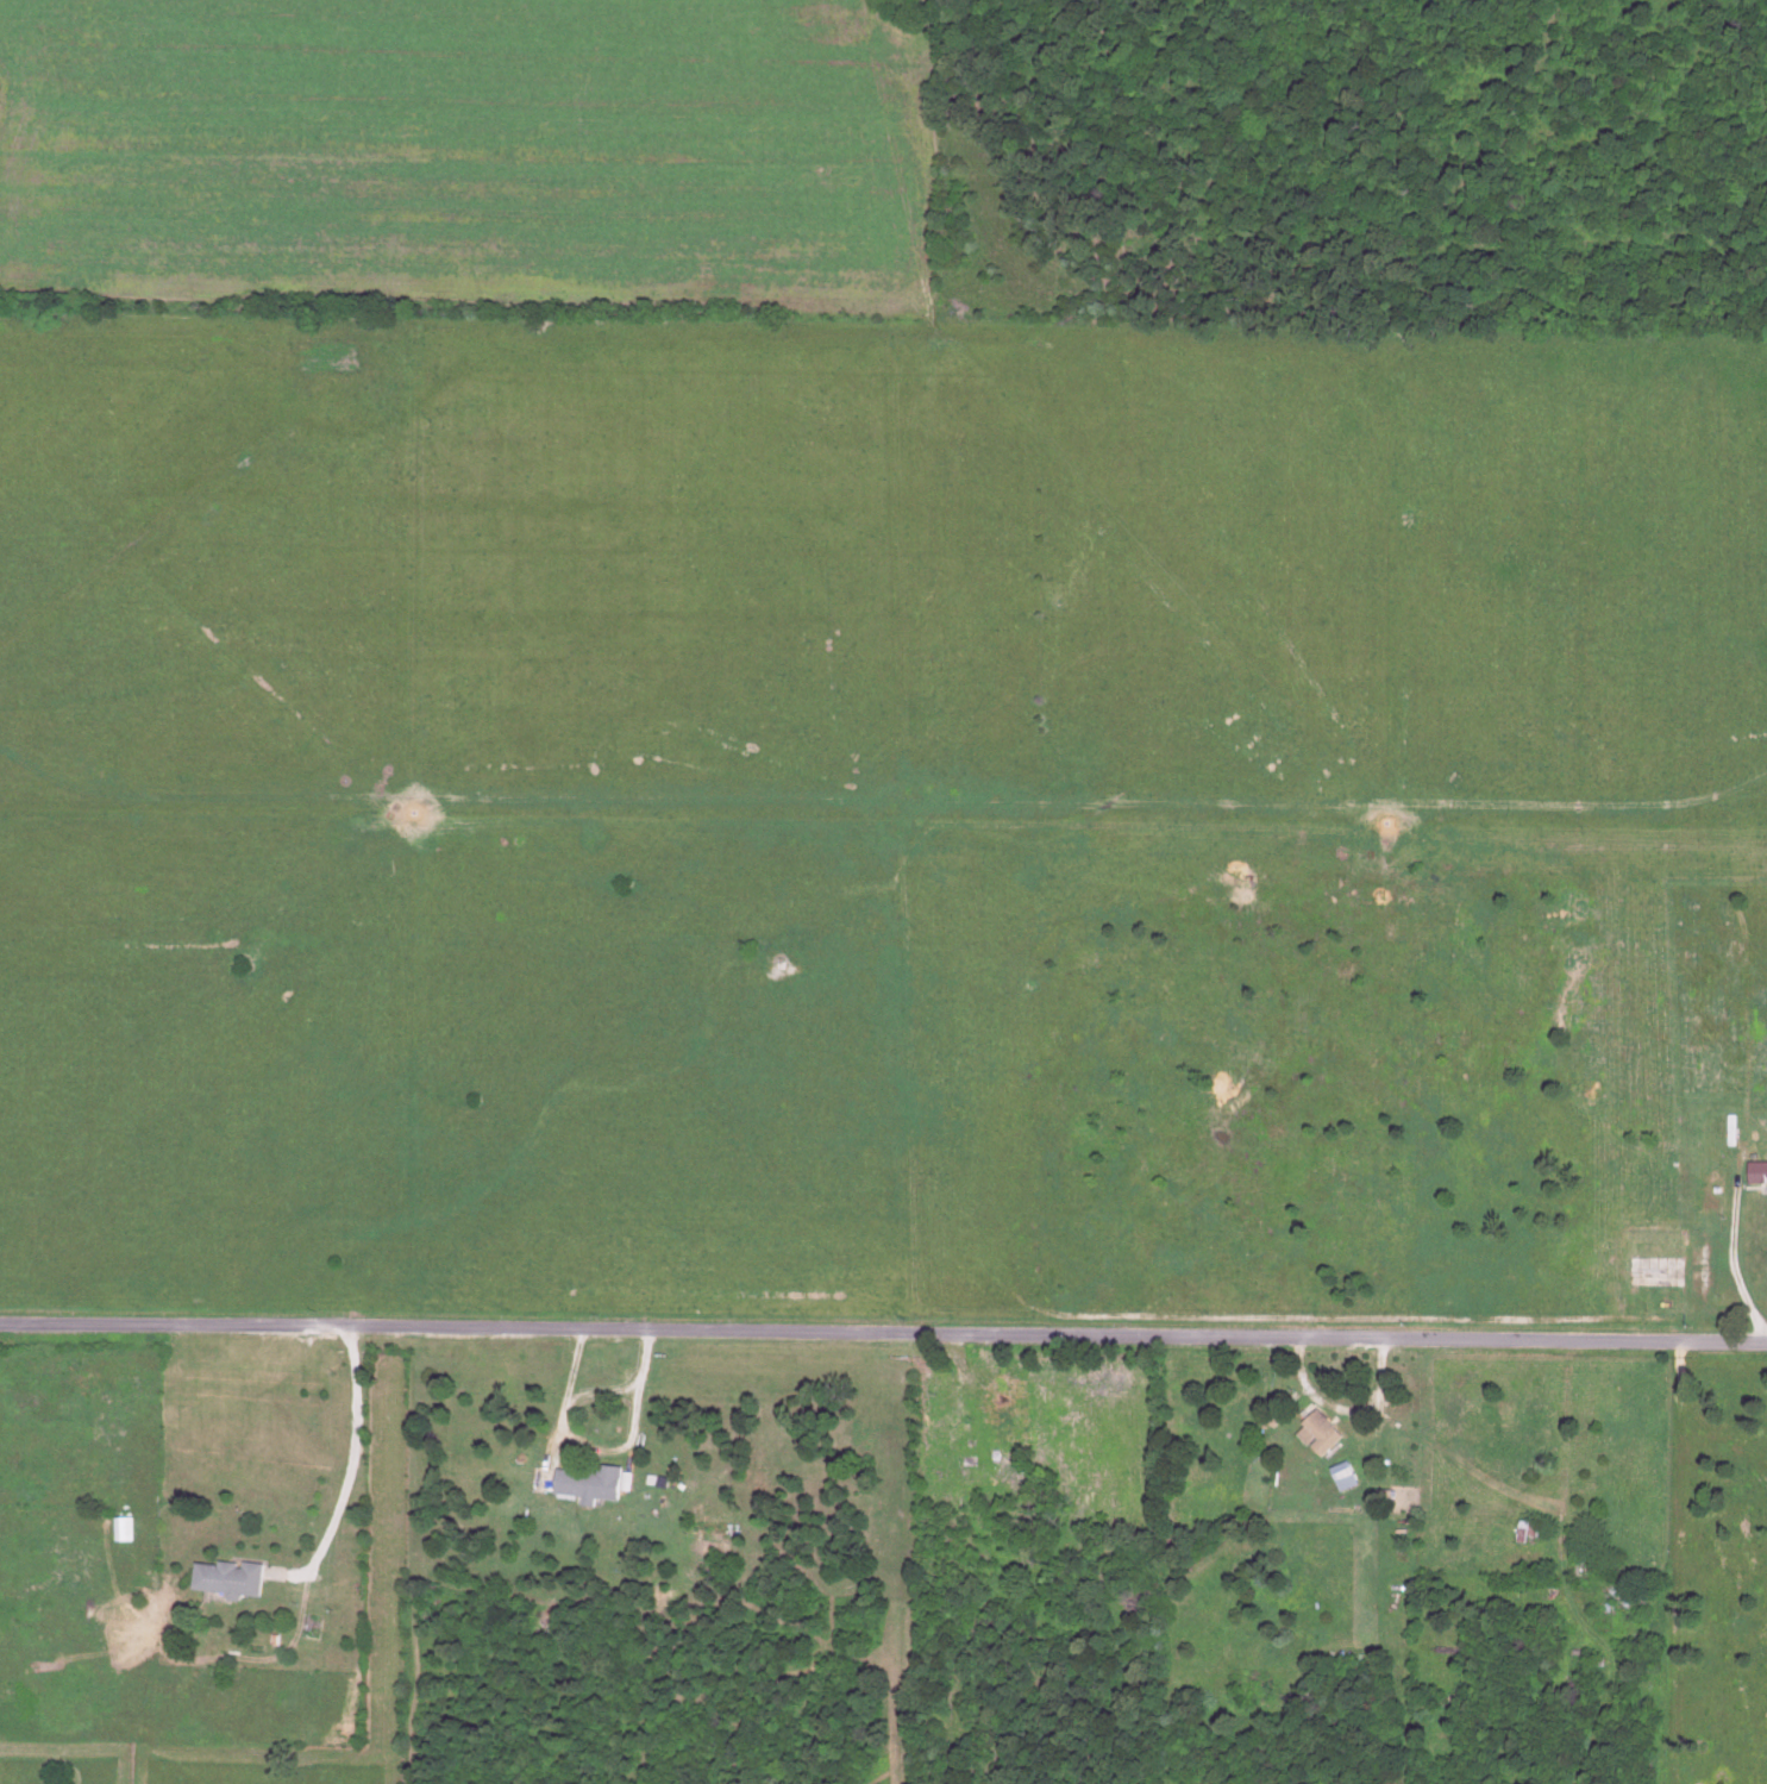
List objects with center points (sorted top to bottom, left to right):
building: (1755, 1173)
road: (1732, 1260)
road: (883, 1335)
road: (600, 1390)
building: (1000, 1429)
building: (1316, 1434)
road: (599, 1448)
road: (346, 1471)
building: (1341, 1477)
building: (585, 1484)
building: (702, 1528)
building: (121, 1529)
building: (1524, 1533)
building: (224, 1579)

